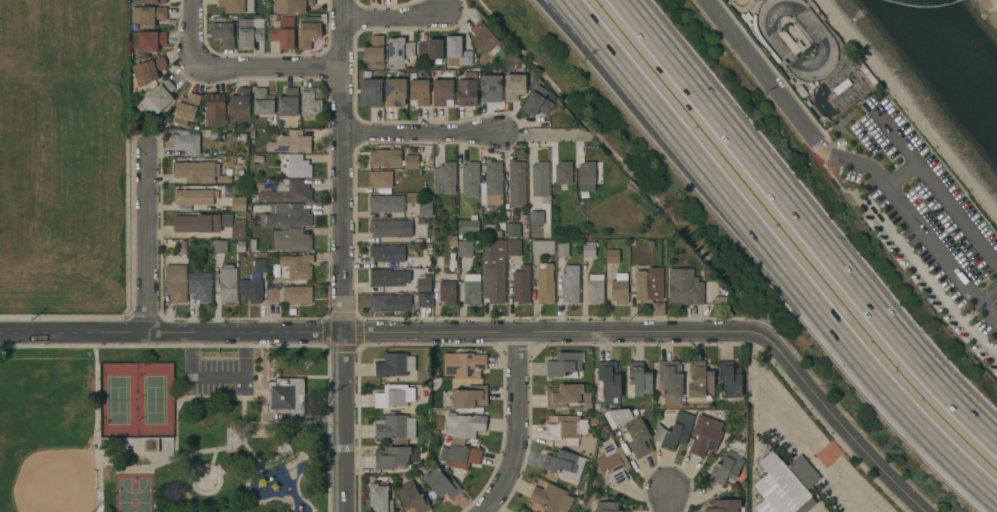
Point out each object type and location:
building: (755, 1)
road: (996, 1)
building: (152, 2)
building: (295, 5)
building: (236, 6)
building: (147, 15)
road: (395, 17)
road: (588, 22)
building: (309, 30)
road: (195, 32)
building: (222, 32)
building: (282, 32)
building: (249, 33)
building: (148, 40)
building: (484, 40)
building: (789, 41)
building: (431, 49)
building: (375, 50)
building: (457, 50)
building: (398, 52)
road: (269, 64)
road: (761, 69)
building: (146, 71)
building: (841, 86)
building: (514, 87)
building: (491, 88)
building: (419, 90)
building: (442, 90)
building: (466, 91)
building: (395, 92)
building: (370, 93)
building: (158, 98)
building: (537, 102)
building: (288, 103)
building: (311, 103)
building: (263, 104)
building: (239, 107)
building: (186, 108)
building: (214, 110)
road: (419, 132)
road: (537, 135)
building: (291, 142)
building: (186, 144)
park: (63, 156)
building: (385, 158)
building: (410, 162)
building: (294, 166)
building: (195, 172)
building: (563, 173)
road: (899, 173)
building: (445, 177)
building: (592, 178)
building: (383, 179)
building: (470, 179)
building: (540, 180)
building: (493, 182)
building: (516, 182)
road: (936, 189)
building: (287, 192)
building: (193, 197)
building: (238, 203)
building: (386, 203)
road: (903, 207)
building: (425, 209)
building: (286, 216)
building: (536, 220)
building: (209, 224)
building: (467, 226)
road: (802, 226)
building: (390, 228)
building: (512, 230)
road: (151, 236)
building: (290, 240)
building: (219, 246)
building: (513, 247)
building: (543, 247)
building: (465, 249)
building: (562, 249)
building: (588, 249)
building: (386, 253)
road: (345, 255)
building: (612, 256)
building: (258, 265)
building: (296, 266)
building: (279, 271)
building: (493, 271)
road: (795, 277)
building: (388, 278)
building: (175, 283)
building: (227, 284)
building: (423, 284)
building: (544, 284)
building: (570, 285)
building: (200, 286)
building: (520, 286)
building: (684, 287)
building: (472, 288)
building: (595, 288)
building: (619, 288)
building: (650, 289)
road: (989, 289)
building: (250, 290)
building: (447, 292)
road: (938, 293)
building: (290, 295)
building: (424, 300)
building: (390, 302)
road: (989, 305)
road: (500, 336)
building: (395, 365)
building: (463, 365)
building: (563, 365)
building: (436, 371)
parking lot: (215, 377)
road: (216, 377)
building: (729, 379)
building: (638, 380)
building: (699, 380)
building: (608, 381)
building: (670, 382)
building: (566, 395)
building: (286, 396)
building: (394, 396)
building: (468, 397)
building: (588, 406)
building: (616, 417)
building: (594, 421)
building: (464, 425)
building: (396, 428)
road: (519, 428)
building: (567, 429)
road: (794, 430)
park: (161, 431)
building: (674, 431)
building: (705, 437)
building: (638, 438)
building: (142, 445)
building: (459, 454)
building: (394, 457)
building: (612, 463)
building: (563, 464)
building: (726, 467)
building: (440, 481)
building: (785, 485)
building: (379, 498)
building: (412, 498)
building: (551, 498)
road: (669, 503)
building: (725, 506)
building: (608, 507)
building: (521, 511)

